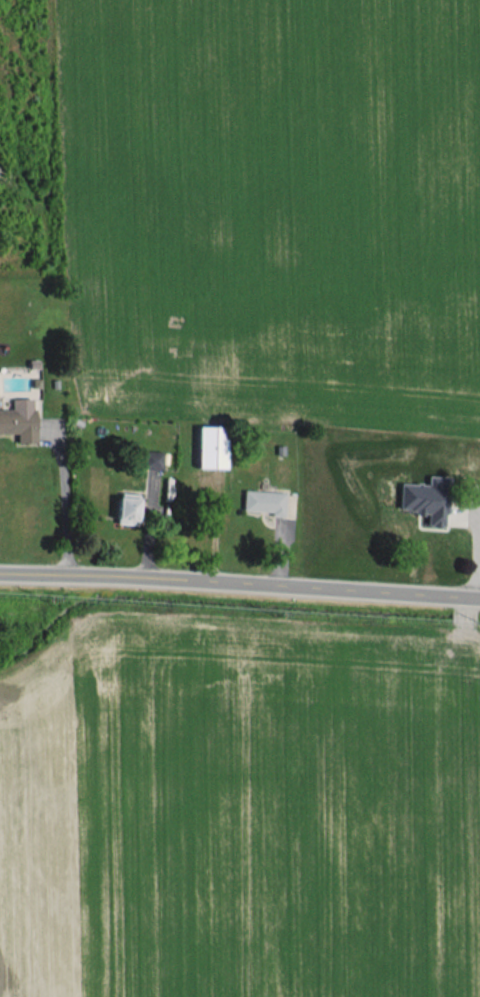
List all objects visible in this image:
building: (19, 419)
building: (210, 447)
building: (150, 459)
road: (61, 498)
building: (425, 499)
building: (263, 501)
building: (126, 508)
road: (240, 581)

